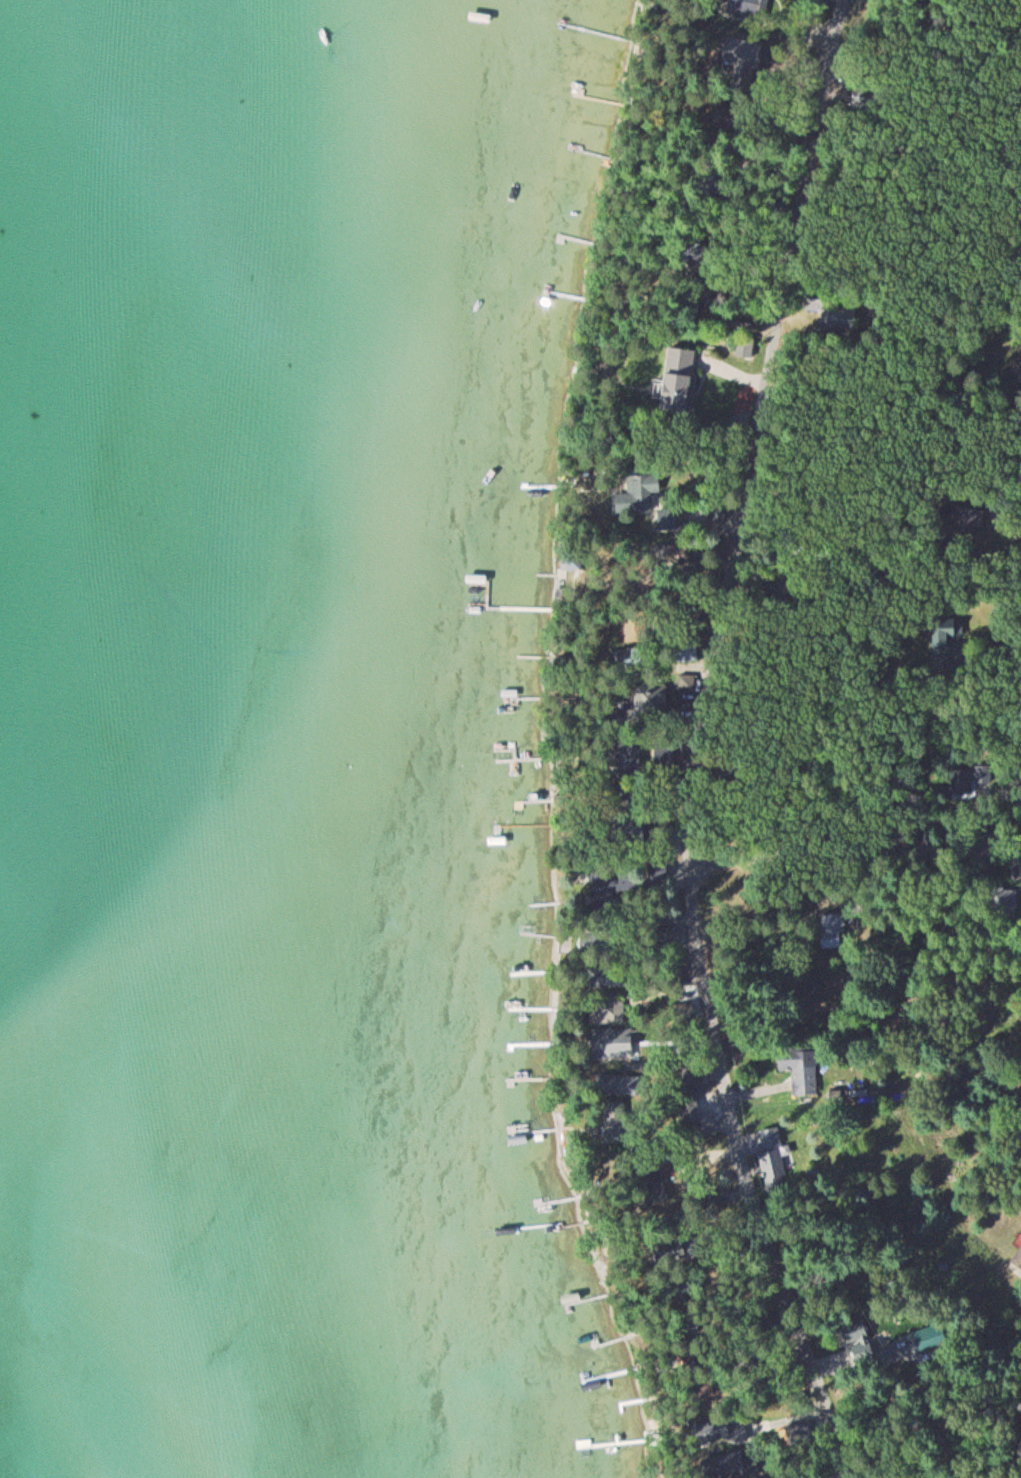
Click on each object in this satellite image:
building: (746, 9)
building: (737, 52)
building: (816, 305)
building: (842, 319)
building: (746, 350)
building: (681, 381)
building: (639, 495)
building: (669, 518)
building: (969, 519)
building: (949, 639)
building: (653, 701)
road: (693, 742)
building: (633, 753)
building: (529, 806)
building: (632, 832)
road: (850, 853)
building: (1006, 907)
building: (834, 930)
building: (670, 937)
building: (609, 1010)
building: (615, 1043)
building: (802, 1073)
building: (695, 1081)
building: (616, 1085)
building: (691, 1110)
building: (773, 1156)
building: (1018, 1259)
building: (860, 1340)
building: (921, 1343)
building: (713, 1431)
building: (732, 1463)

